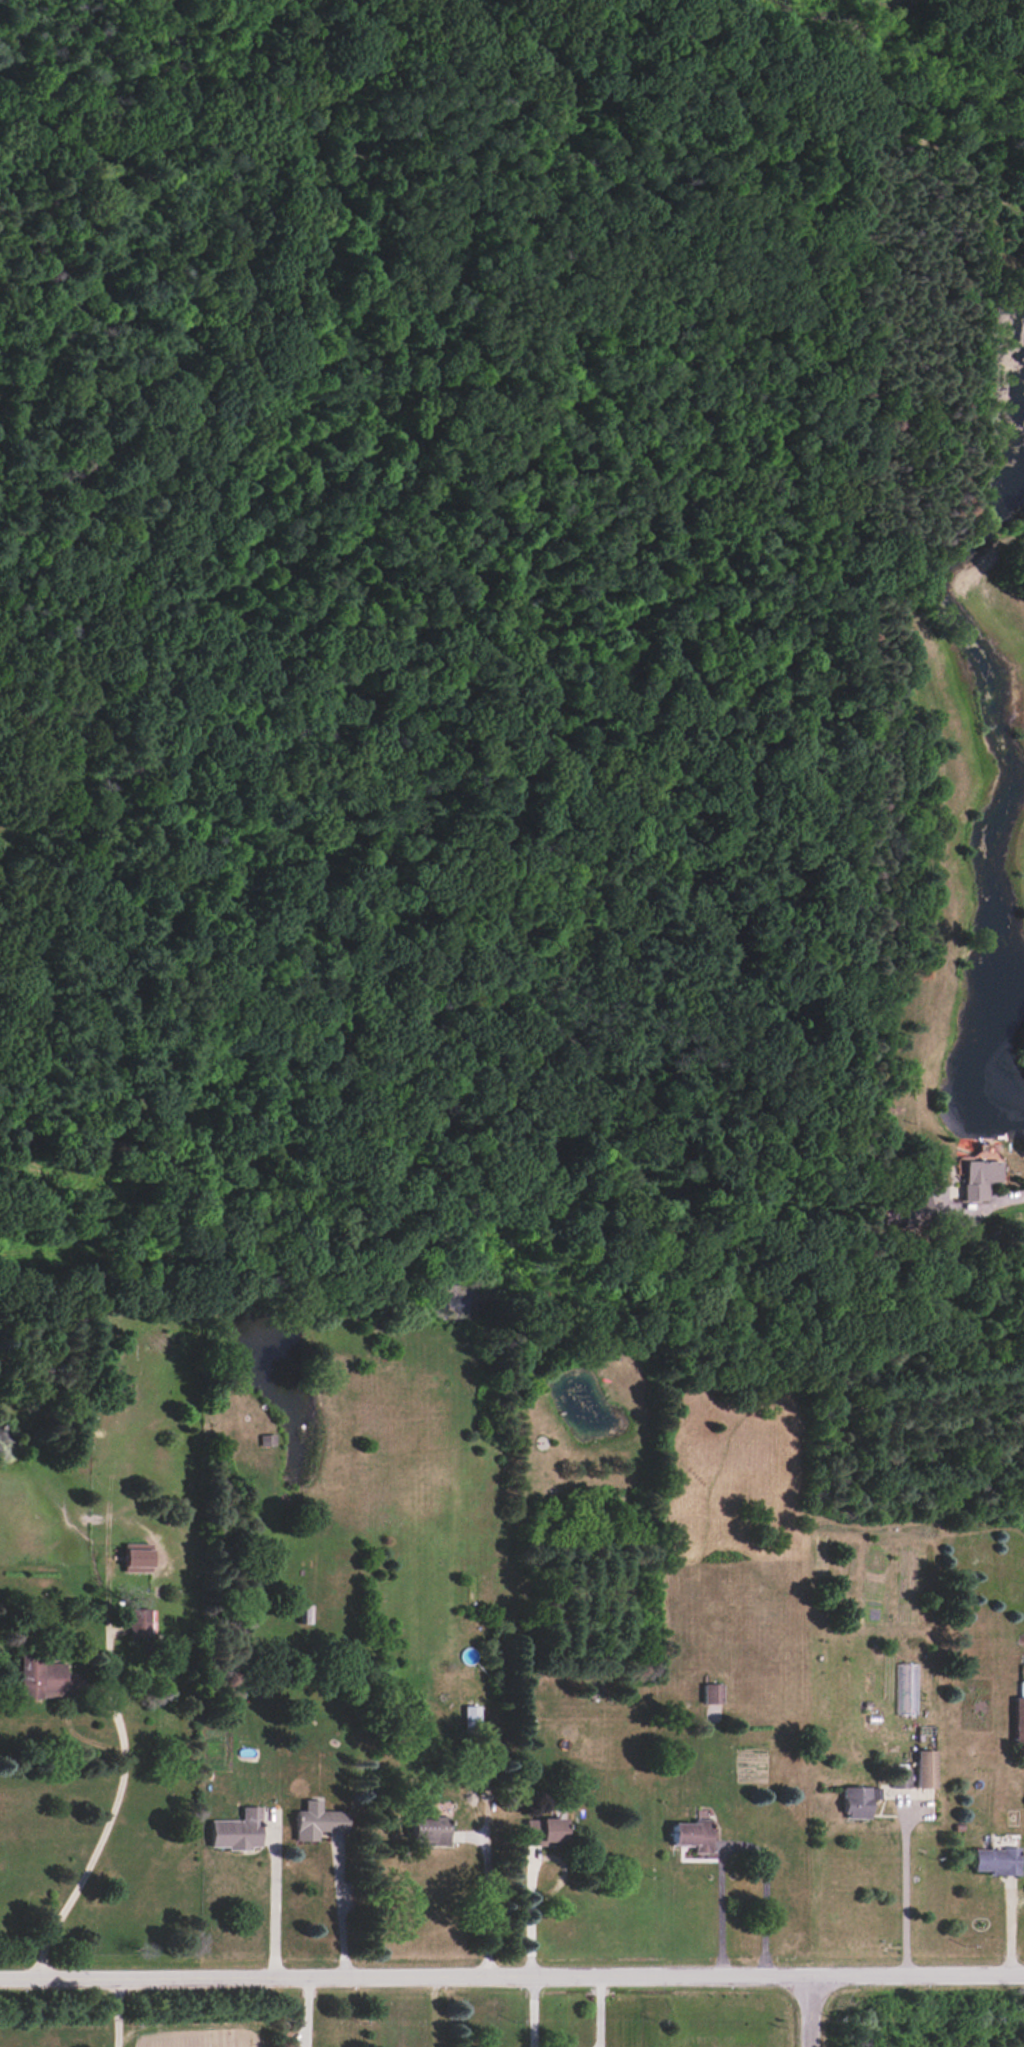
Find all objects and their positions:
building: (979, 1178)
road: (973, 1232)
building: (139, 1622)
building: (46, 1678)
building: (908, 1680)
building: (712, 1693)
building: (1019, 1716)
building: (472, 1717)
building: (925, 1769)
building: (901, 1778)
building: (858, 1801)
building: (318, 1821)
building: (429, 1830)
building: (237, 1831)
building: (545, 1831)
building: (693, 1835)
road: (102, 1836)
road: (739, 1844)
building: (996, 1860)
road: (904, 1890)
road: (487, 1897)
road: (274, 1905)
road: (340, 1911)
road: (531, 1918)
road: (511, 1979)
road: (533, 2012)
road: (811, 2012)
road: (430, 2013)
road: (117, 2014)
road: (198, 2026)

